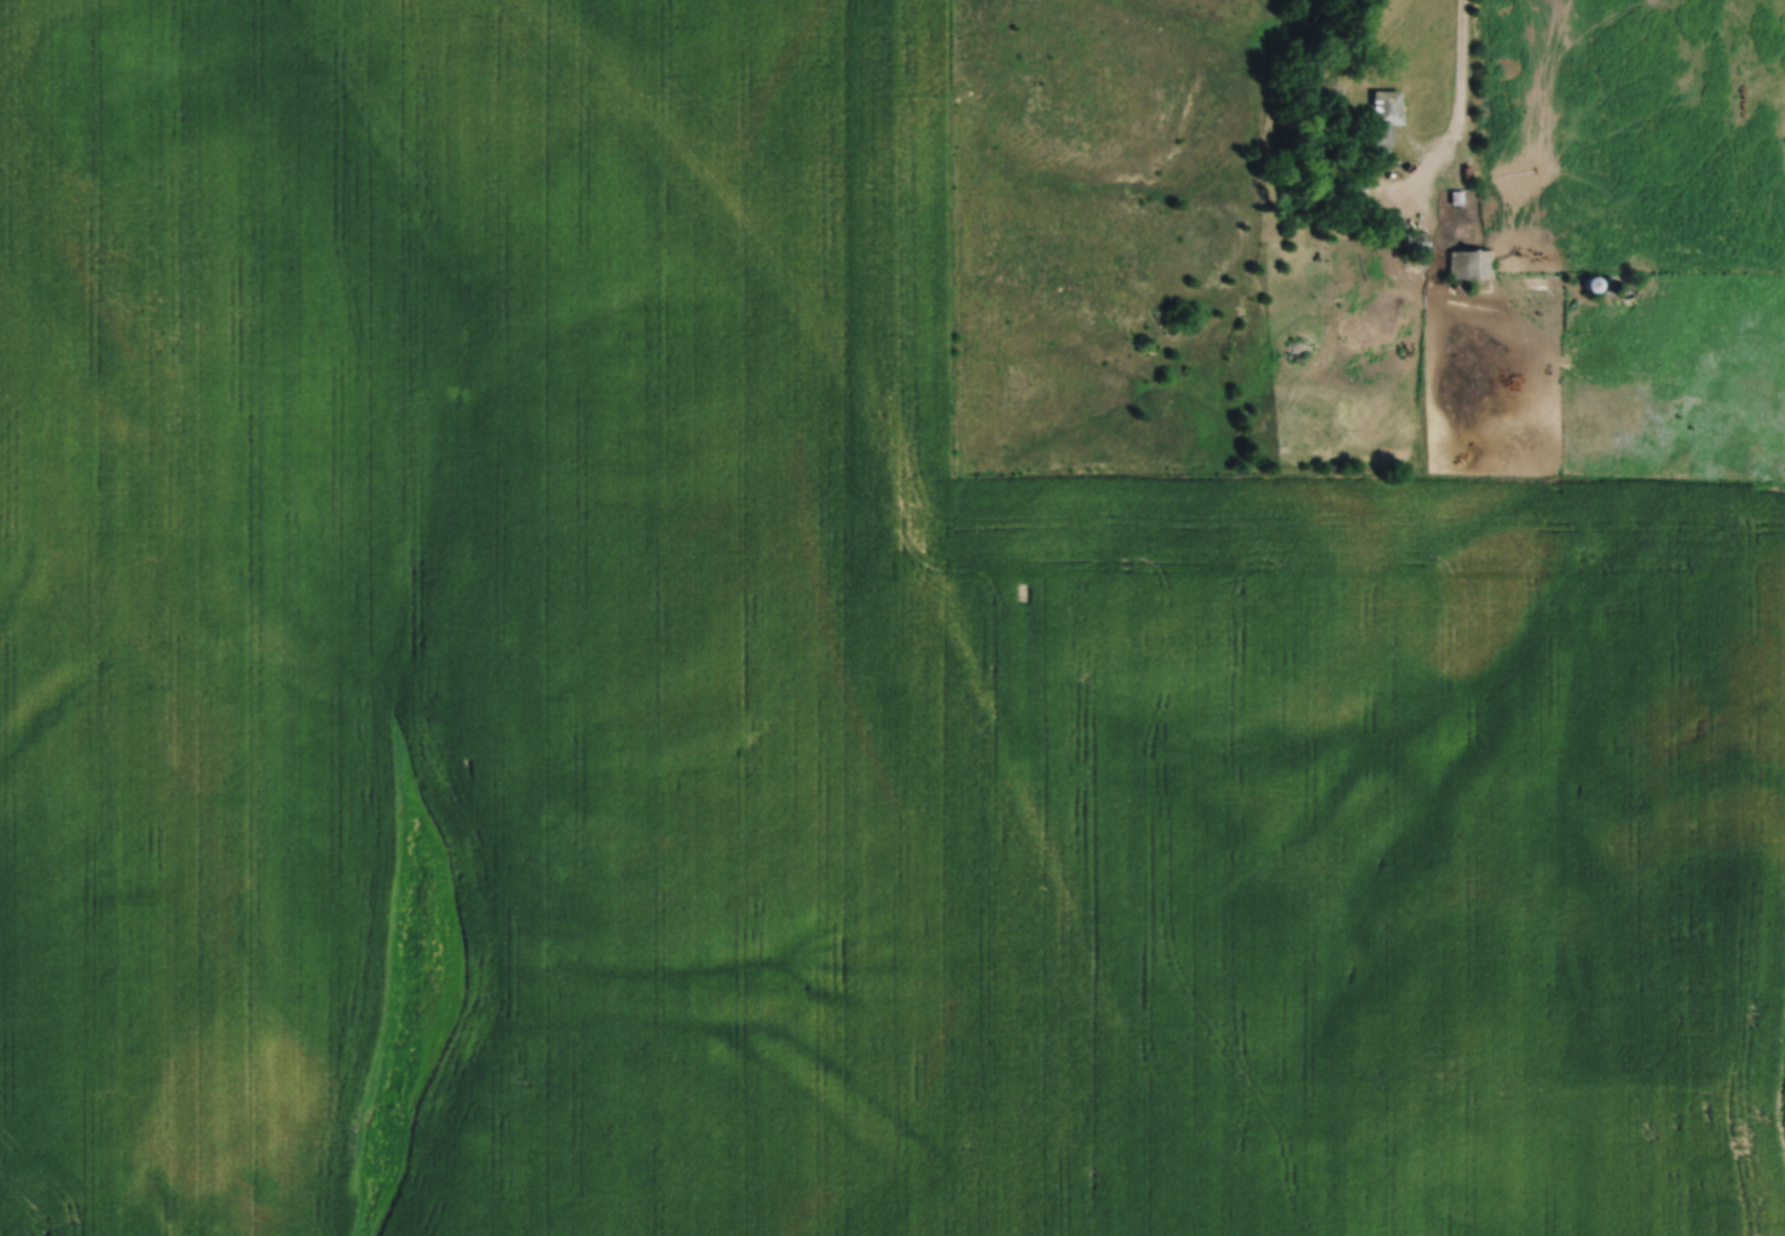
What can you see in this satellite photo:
road: (1458, 92)
building: (1391, 115)
building: (1420, 248)
building: (1473, 262)

